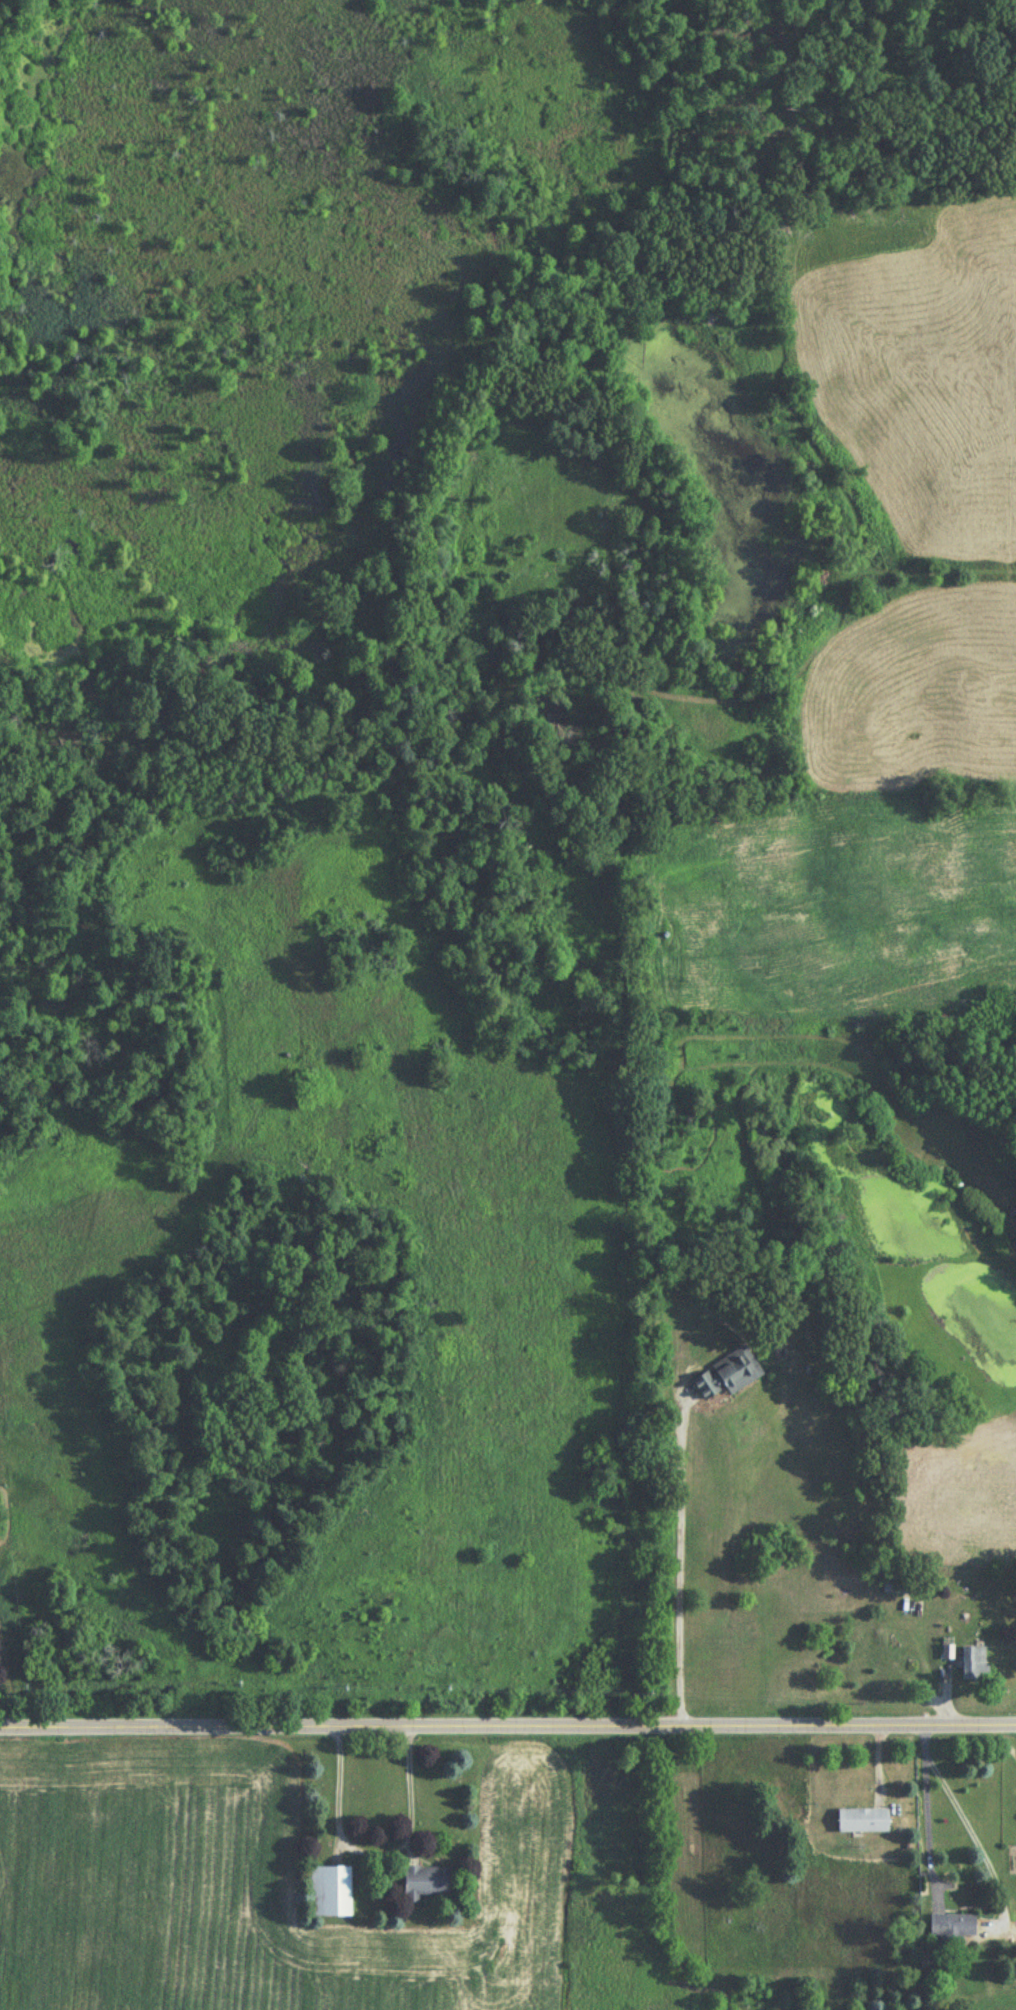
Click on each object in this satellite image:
building: (728, 1375)
road: (681, 1564)
building: (973, 1661)
road: (508, 1721)
road: (926, 1806)
building: (862, 1821)
road: (374, 1850)
building: (425, 1883)
building: (329, 1892)
building: (952, 1926)

